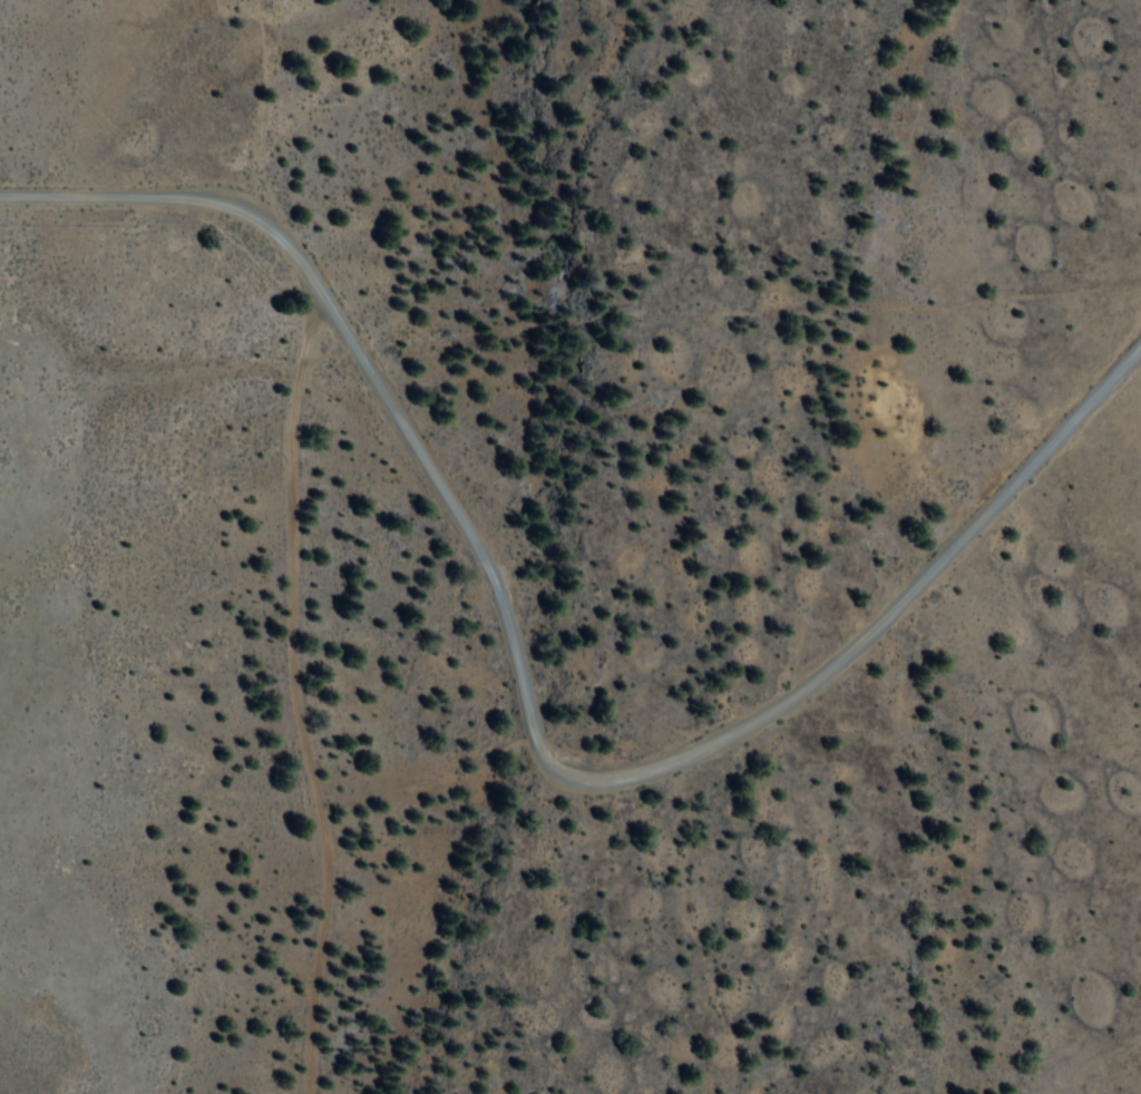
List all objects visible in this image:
road: (296, 687)
road: (533, 705)

